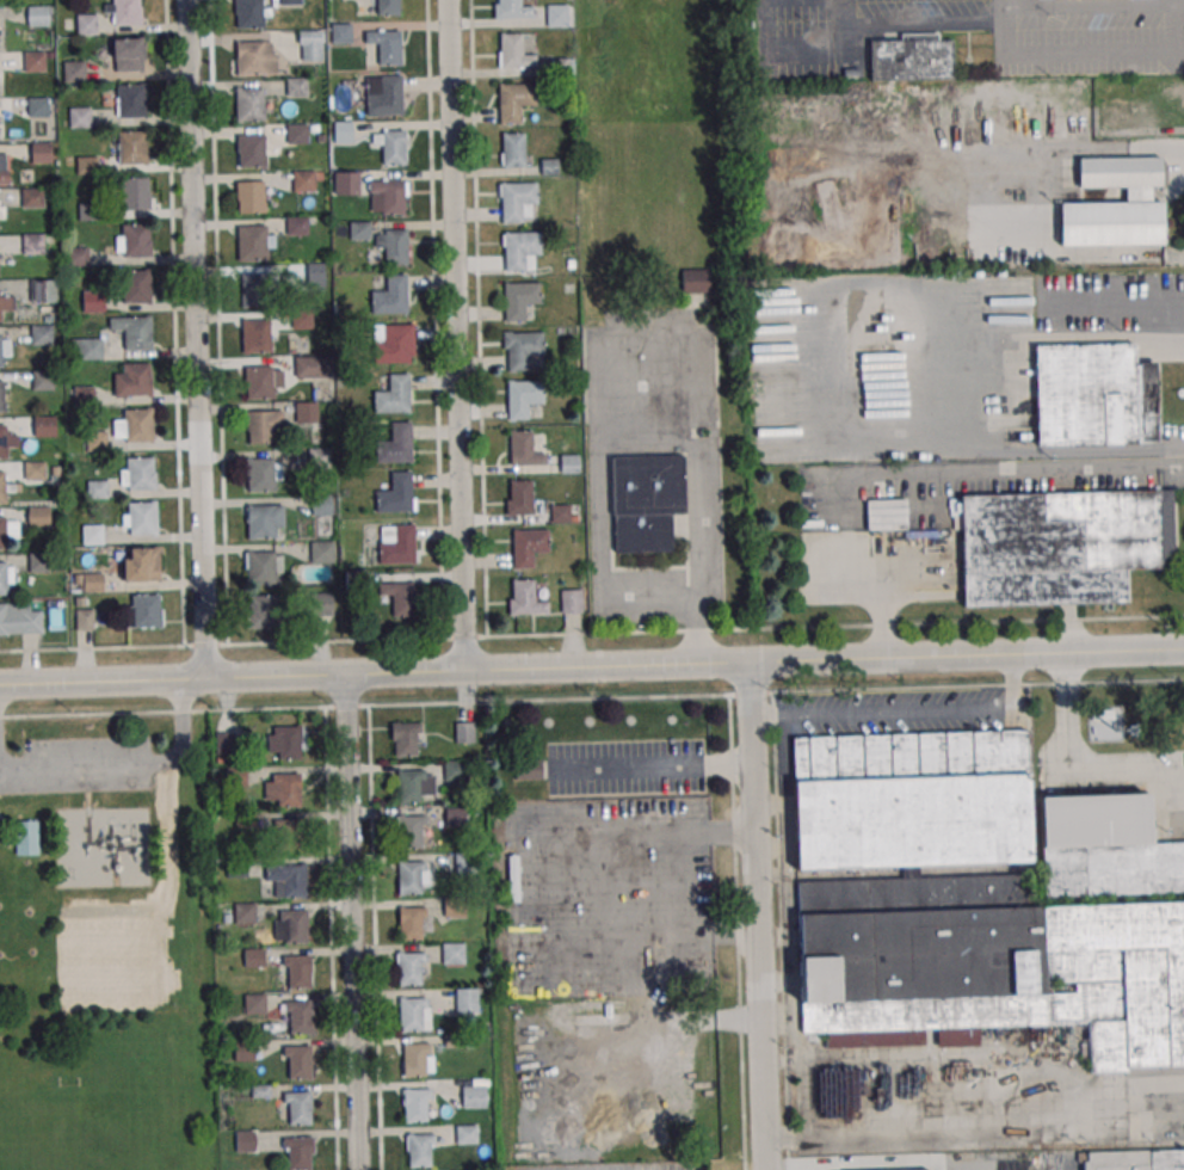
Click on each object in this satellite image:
road: (1028, 4)
building: (387, 7)
building: (125, 11)
building: (513, 11)
building: (249, 13)
building: (555, 14)
building: (37, 17)
road: (1003, 17)
building: (85, 25)
road: (1178, 30)
building: (341, 33)
building: (310, 44)
building: (384, 48)
building: (513, 53)
building: (127, 54)
road: (1080, 54)
building: (249, 57)
building: (909, 57)
building: (33, 62)
building: (74, 73)
building: (296, 87)
building: (382, 94)
building: (131, 100)
building: (514, 101)
building: (248, 105)
building: (37, 107)
building: (1118, 116)
building: (80, 118)
building: (1055, 125)
building: (341, 131)
building: (297, 135)
building: (390, 146)
building: (131, 147)
building: (251, 149)
building: (512, 149)
building: (39, 153)
building: (549, 166)
building: (86, 167)
building: (4, 168)
building: (302, 180)
building: (345, 183)
building: (135, 192)
road: (978, 193)
building: (249, 196)
building: (389, 196)
building: (31, 198)
building: (517, 201)
building: (1116, 203)
building: (88, 213)
building: (296, 227)
building: (359, 232)
building: (136, 239)
building: (252, 242)
building: (32, 245)
building: (393, 245)
building: (519, 251)
building: (76, 257)
building: (315, 275)
building: (136, 287)
building: (43, 289)
building: (254, 290)
building: (390, 295)
building: (6, 300)
building: (519, 300)
building: (92, 302)
building: (865, 314)
road: (479, 318)
road: (434, 319)
building: (301, 320)
road: (174, 322)
road: (217, 322)
building: (137, 332)
road: (456, 335)
building: (41, 337)
building: (255, 337)
road: (196, 339)
road: (1060, 341)
building: (393, 343)
building: (301, 344)
road: (831, 345)
building: (91, 349)
building: (523, 351)
building: (0, 352)
building: (306, 368)
building: (136, 378)
building: (42, 381)
building: (259, 382)
building: (393, 394)
building: (1, 395)
building: (1094, 395)
building: (84, 398)
road: (942, 398)
building: (522, 400)
building: (306, 413)
building: (138, 424)
building: (259, 426)
building: (44, 427)
road: (625, 429)
building: (2, 441)
building: (97, 443)
building: (395, 444)
road: (1066, 448)
building: (523, 449)
building: (320, 457)
building: (569, 463)
building: (33, 472)
road: (981, 472)
building: (141, 473)
building: (259, 474)
building: (2, 487)
building: (97, 491)
building: (395, 493)
building: (518, 497)
building: (646, 503)
building: (320, 506)
building: (560, 513)
building: (38, 517)
building: (142, 517)
building: (260, 521)
building: (2, 534)
building: (92, 535)
building: (396, 543)
building: (1056, 546)
building: (528, 547)
building: (321, 552)
building: (38, 564)
building: (141, 565)
building: (260, 568)
building: (2, 578)
building: (92, 584)
building: (399, 597)
building: (524, 598)
building: (571, 601)
building: (322, 605)
building: (146, 610)
building: (263, 611)
building: (18, 618)
building: (85, 620)
road: (591, 633)
road: (592, 666)
road: (544, 700)
building: (464, 732)
building: (406, 738)
building: (224, 741)
building: (289, 741)
road: (123, 762)
road: (650, 766)
building: (528, 768)
building: (454, 770)
road: (1068, 772)
building: (236, 776)
building: (409, 786)
building: (288, 789)
building: (911, 799)
building: (455, 817)
building: (411, 831)
building: (289, 836)
building: (26, 837)
building: (1104, 848)
building: (464, 862)
building: (236, 867)
building: (409, 876)
building: (294, 881)
building: (454, 906)
building: (245, 912)
road: (329, 916)
road: (757, 916)
road: (352, 922)
building: (412, 923)
building: (295, 926)
park: (105, 947)
building: (452, 953)
building: (253, 957)
building: (409, 968)
building: (298, 971)
building: (465, 998)
building: (254, 1004)
building: (411, 1014)
building: (301, 1017)
building: (243, 1049)
building: (414, 1059)
building: (300, 1063)
road: (1157, 1083)
building: (471, 1096)
building: (415, 1104)
building: (300, 1108)
building: (465, 1134)
building: (245, 1141)
building: (420, 1150)
building: (298, 1154)
building: (1136, 1159)
road: (867, 1163)
building: (894, 1169)

